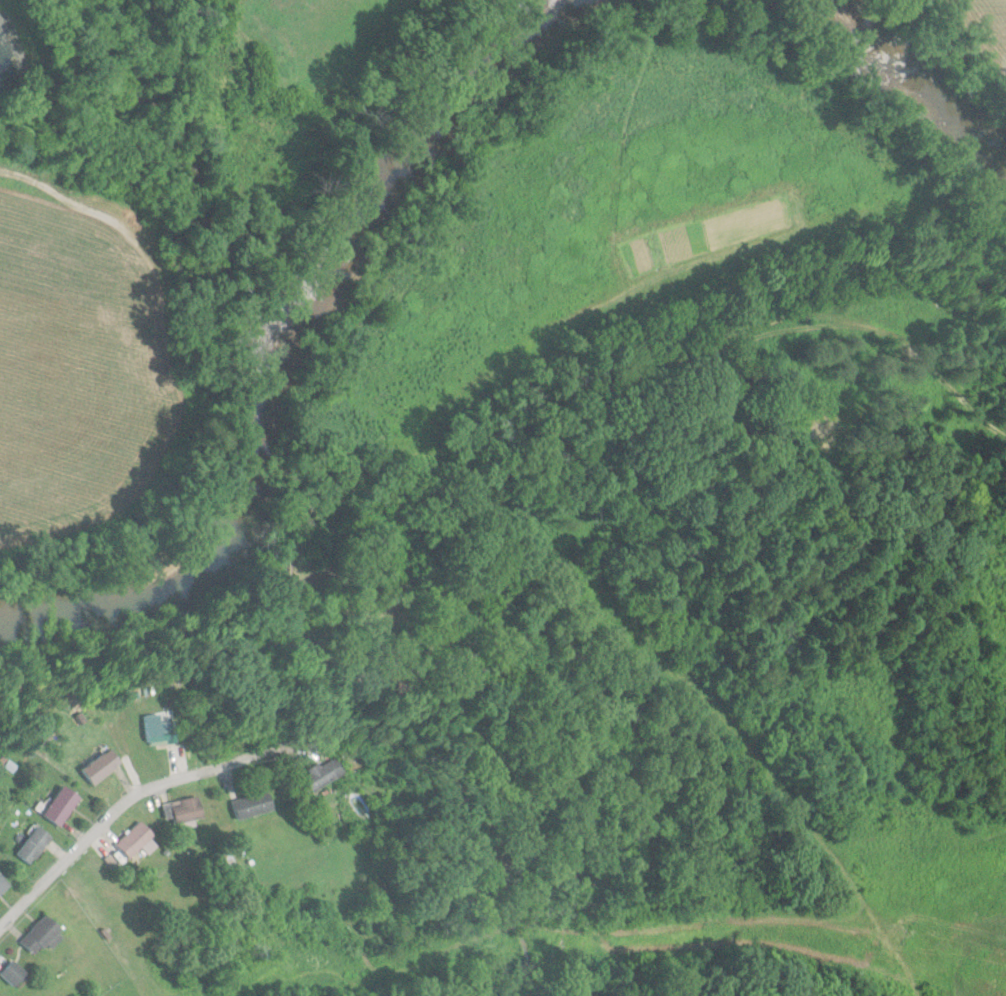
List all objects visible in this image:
river: (919, 81)
river: (278, 345)
building: (160, 730)
building: (102, 766)
building: (321, 776)
building: (253, 805)
building: (62, 806)
building: (183, 810)
road: (105, 818)
building: (135, 839)
building: (34, 845)
building: (3, 884)
building: (42, 934)
building: (14, 973)

